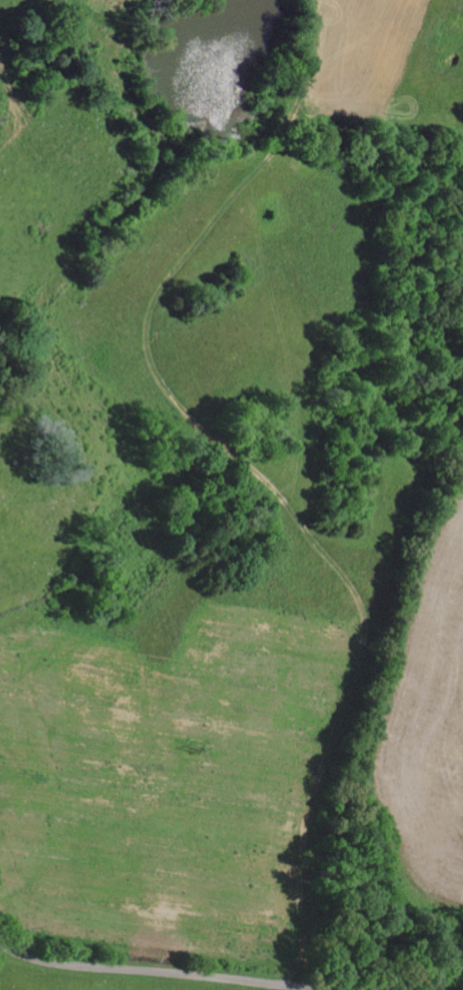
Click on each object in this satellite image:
road: (205, 972)

